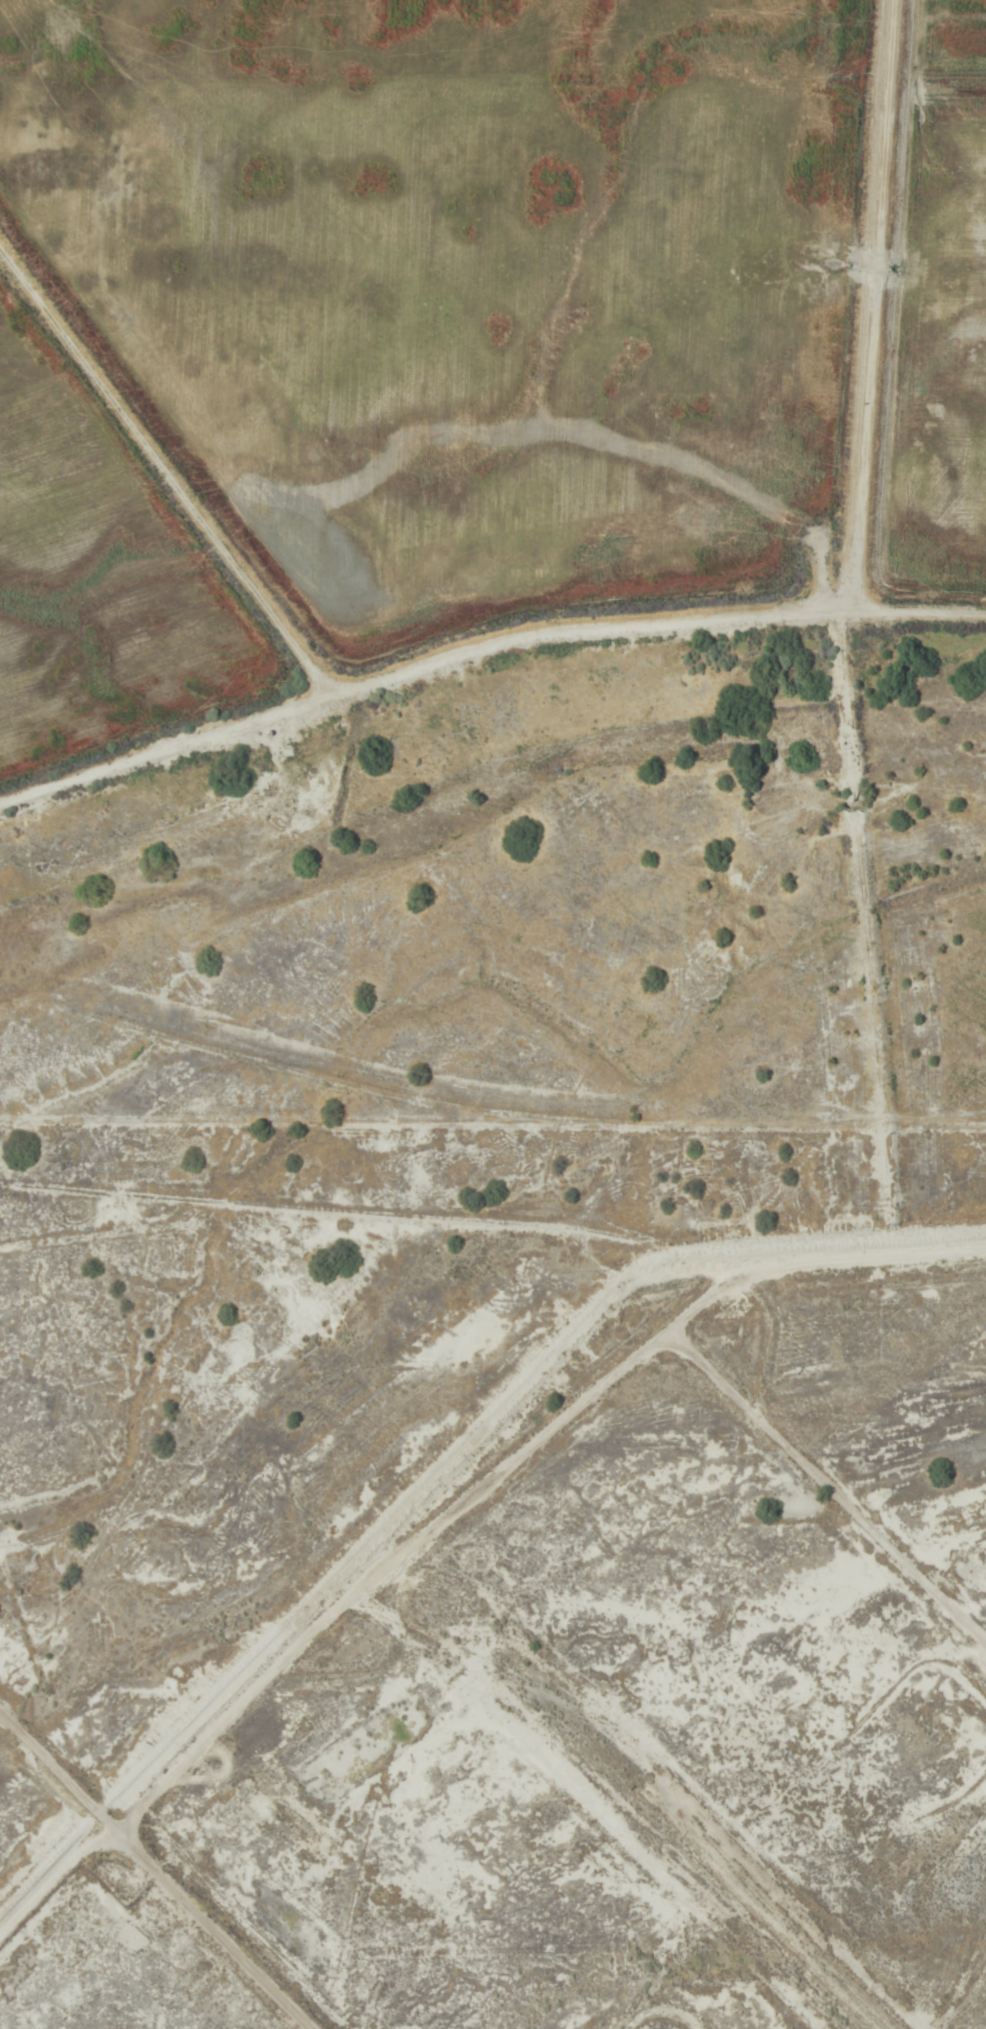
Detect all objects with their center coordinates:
road: (159, 466)
road: (483, 635)
road: (486, 1401)
road: (48, 1855)
road: (157, 1869)

